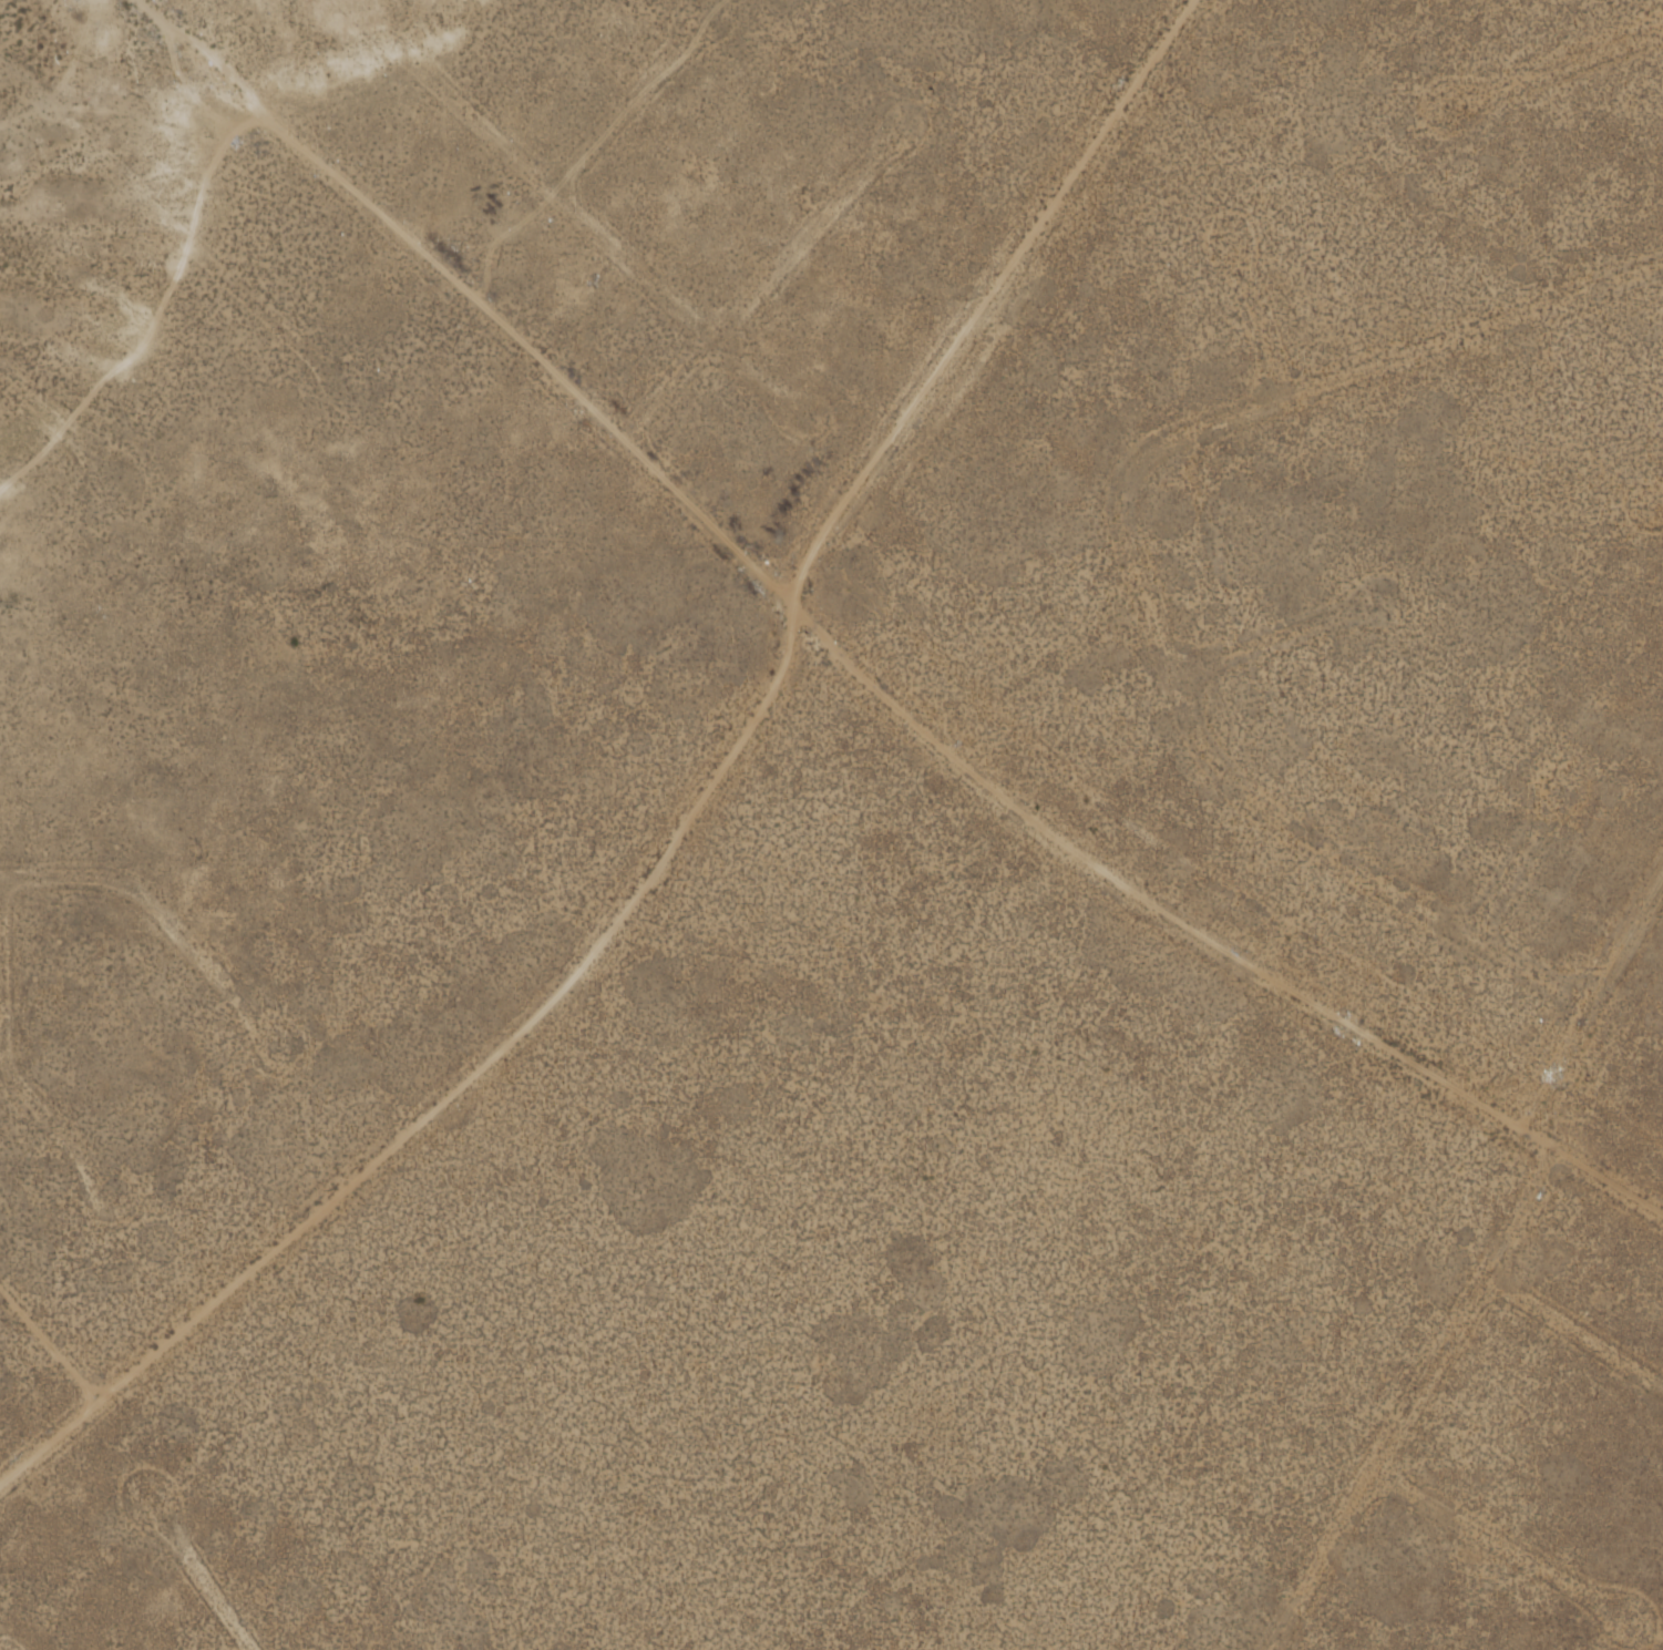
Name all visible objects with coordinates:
road: (860, 634)
road: (691, 811)

